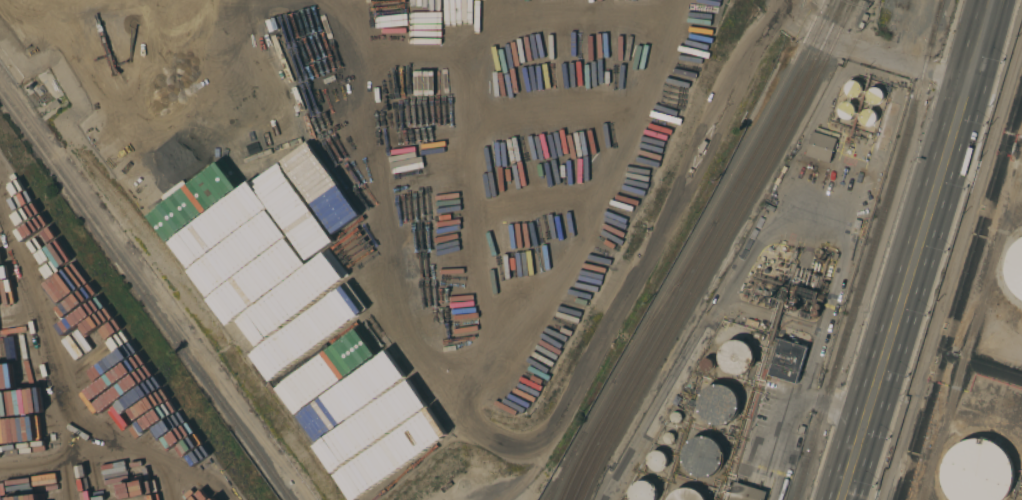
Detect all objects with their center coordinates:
railway: (941, 4)
railway: (942, 4)
road: (867, 48)
building: (852, 88)
storage tank: (852, 88)
railway: (776, 94)
building: (873, 95)
storage tank: (875, 95)
railway: (786, 97)
railway: (796, 99)
railway: (805, 101)
building: (846, 110)
storage tank: (846, 110)
storage tank: (866, 116)
building: (866, 117)
building: (587, 122)
building: (551, 126)
building: (498, 140)
building: (815, 143)
building: (826, 149)
road: (916, 250)
building: (794, 254)
railway: (871, 254)
building: (1014, 268)
building: (814, 280)
building: (805, 293)
building: (776, 294)
railway: (146, 296)
railway: (667, 299)
railway: (658, 322)
railway: (647, 323)
railway: (669, 323)
railway: (664, 348)
road: (813, 349)
building: (734, 357)
storage tank: (737, 357)
storage tank: (740, 359)
building: (787, 360)
storage tank: (706, 364)
building: (705, 365)
storage tank: (710, 367)
building: (717, 404)
storage tank: (718, 404)
storage tank: (720, 407)
road: (820, 407)
storage tank: (676, 417)
storage tank: (677, 419)
storage tank: (668, 438)
storage tank: (671, 439)
storage tank: (657, 456)
building: (701, 456)
storage tank: (702, 457)
storage tank: (705, 458)
building: (656, 460)
storage tank: (656, 460)
building: (976, 471)
railway: (583, 475)
railway: (573, 476)
railway: (557, 479)
railway: (560, 480)
storage tank: (642, 488)
building: (641, 491)
storage tank: (642, 491)
building: (745, 492)
storage tank: (685, 493)
building: (685, 494)
storage tank: (687, 494)

